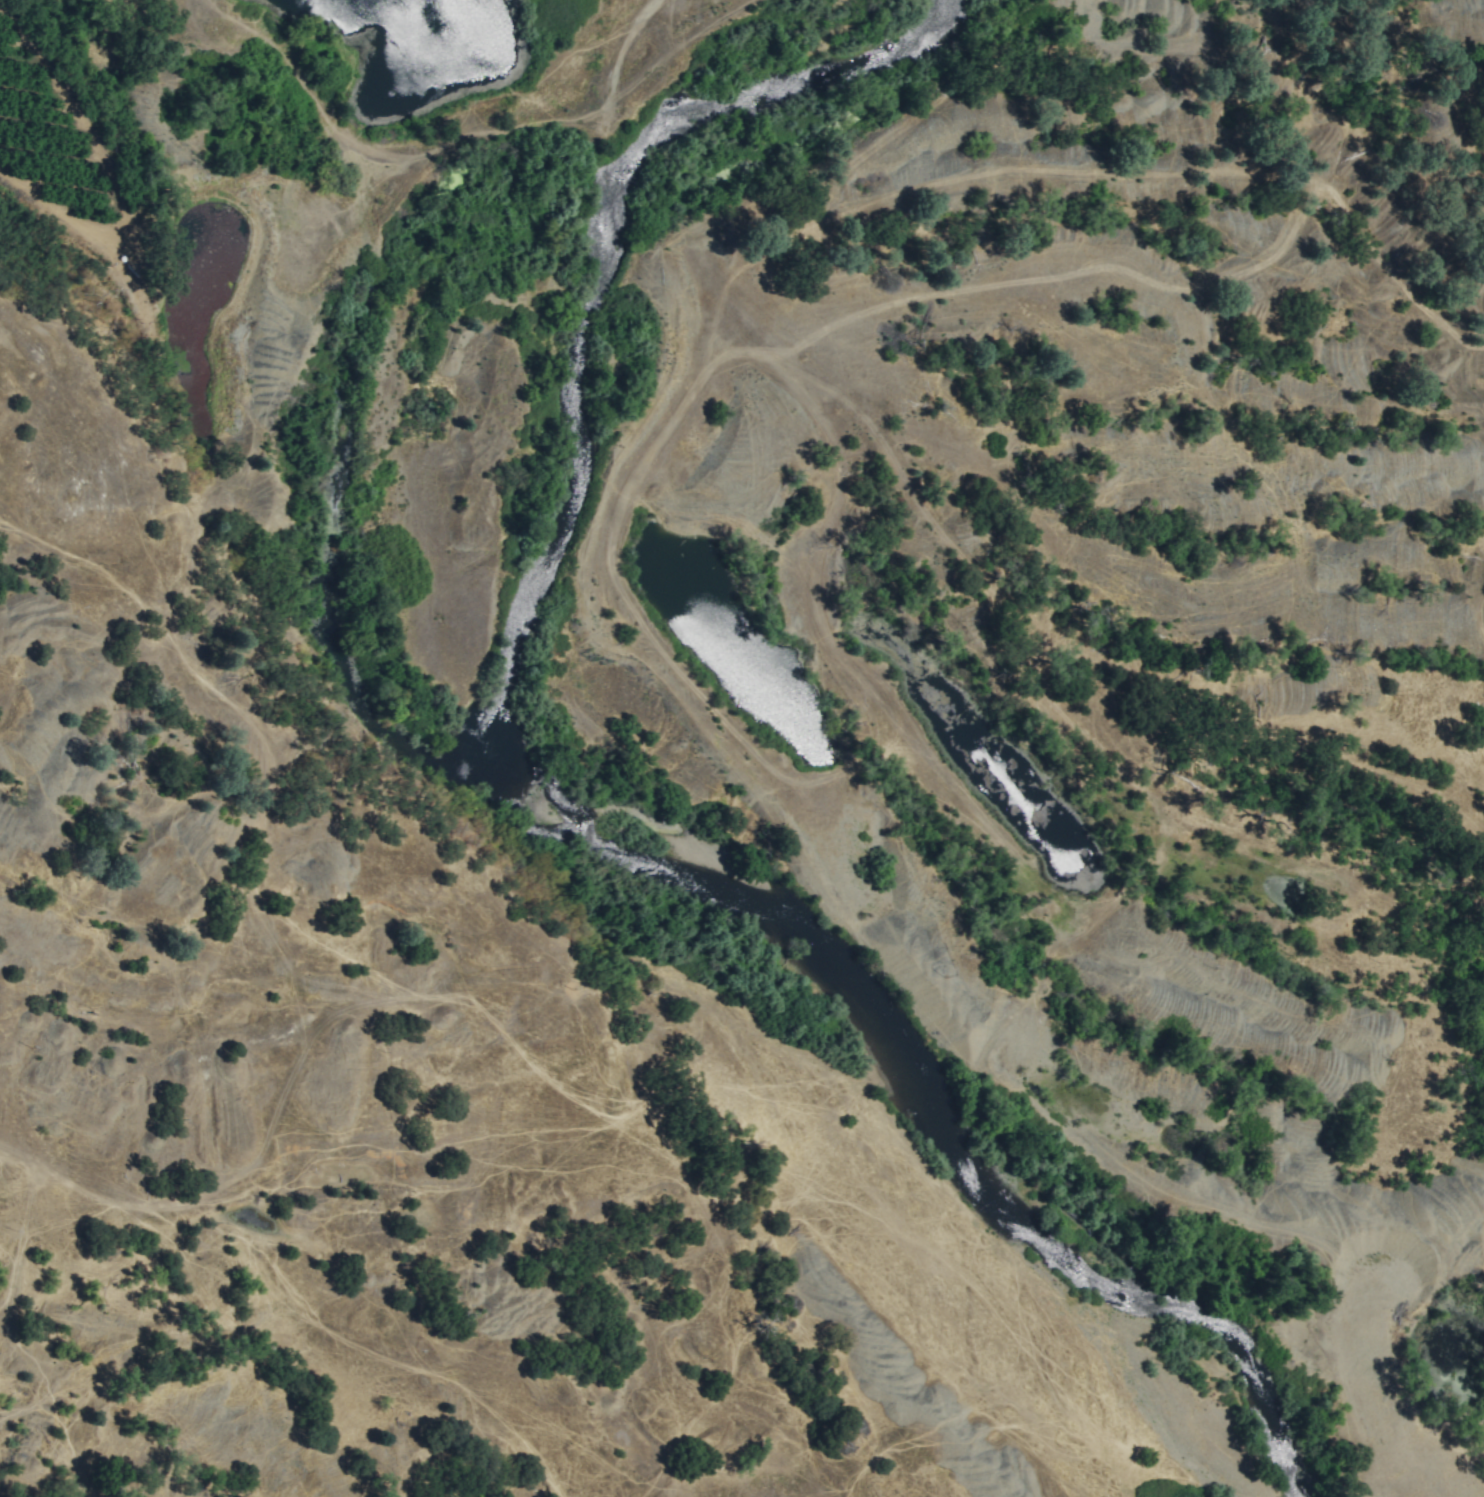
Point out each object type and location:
river: (462, 737)

